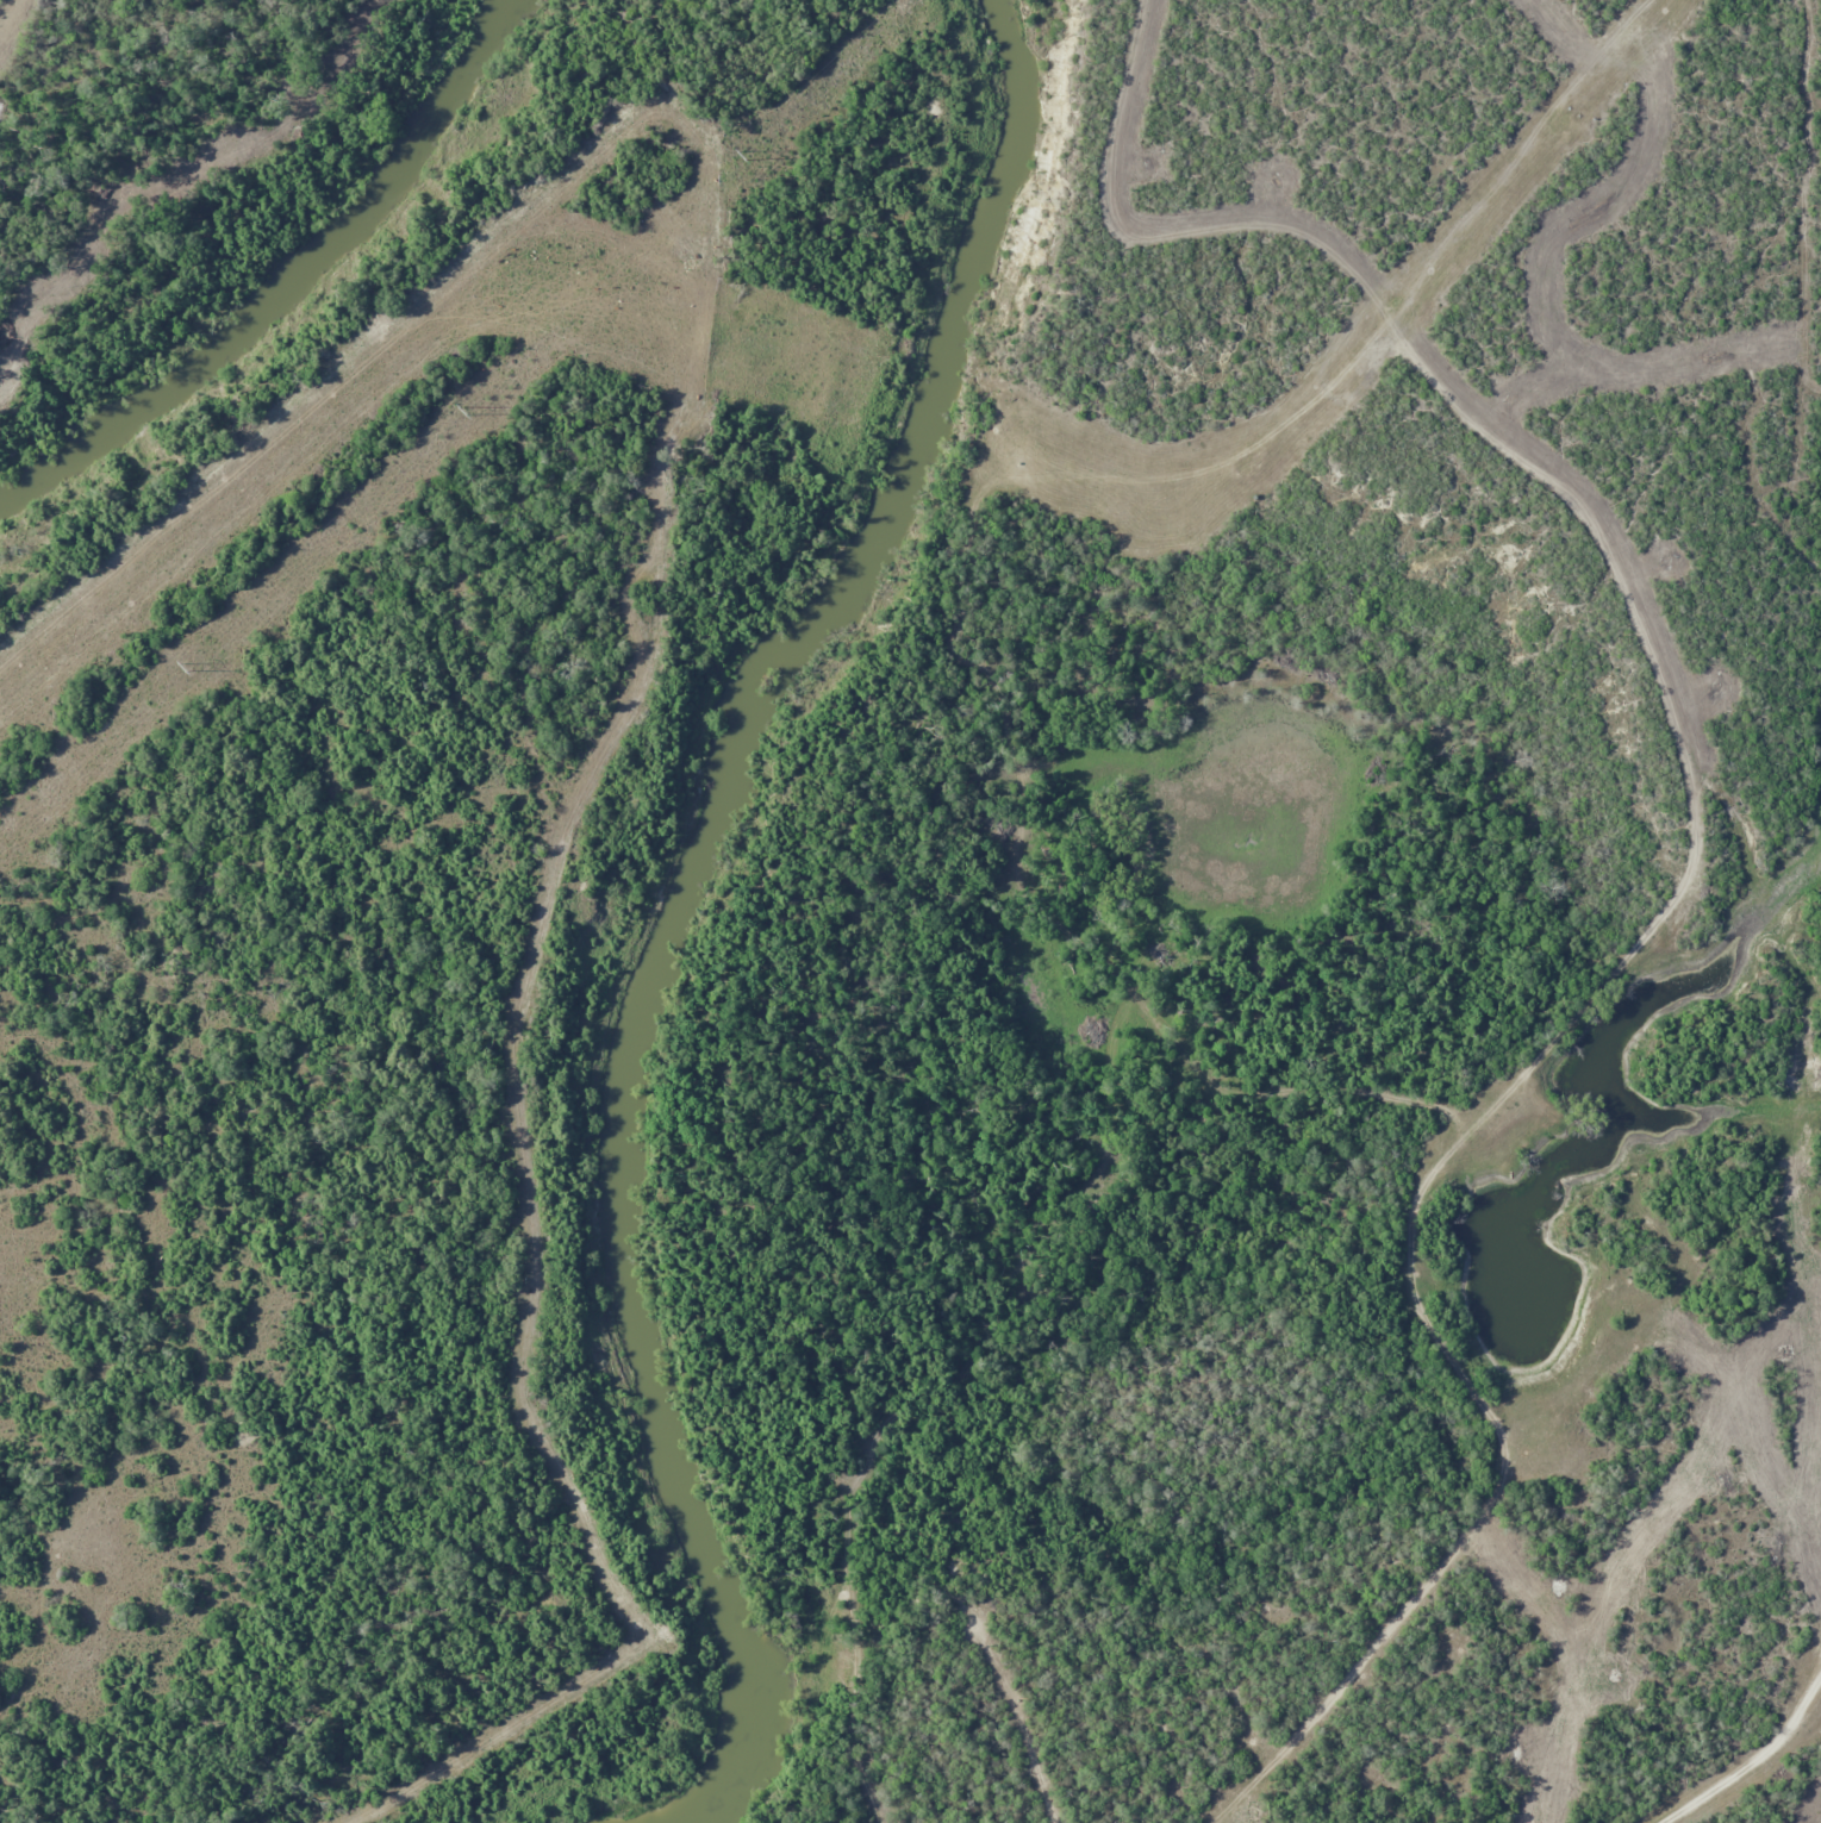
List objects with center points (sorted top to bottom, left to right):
power tower: (743, 154)
river: (286, 283)
power tower: (467, 410)
power tower: (188, 667)
river: (686, 909)

